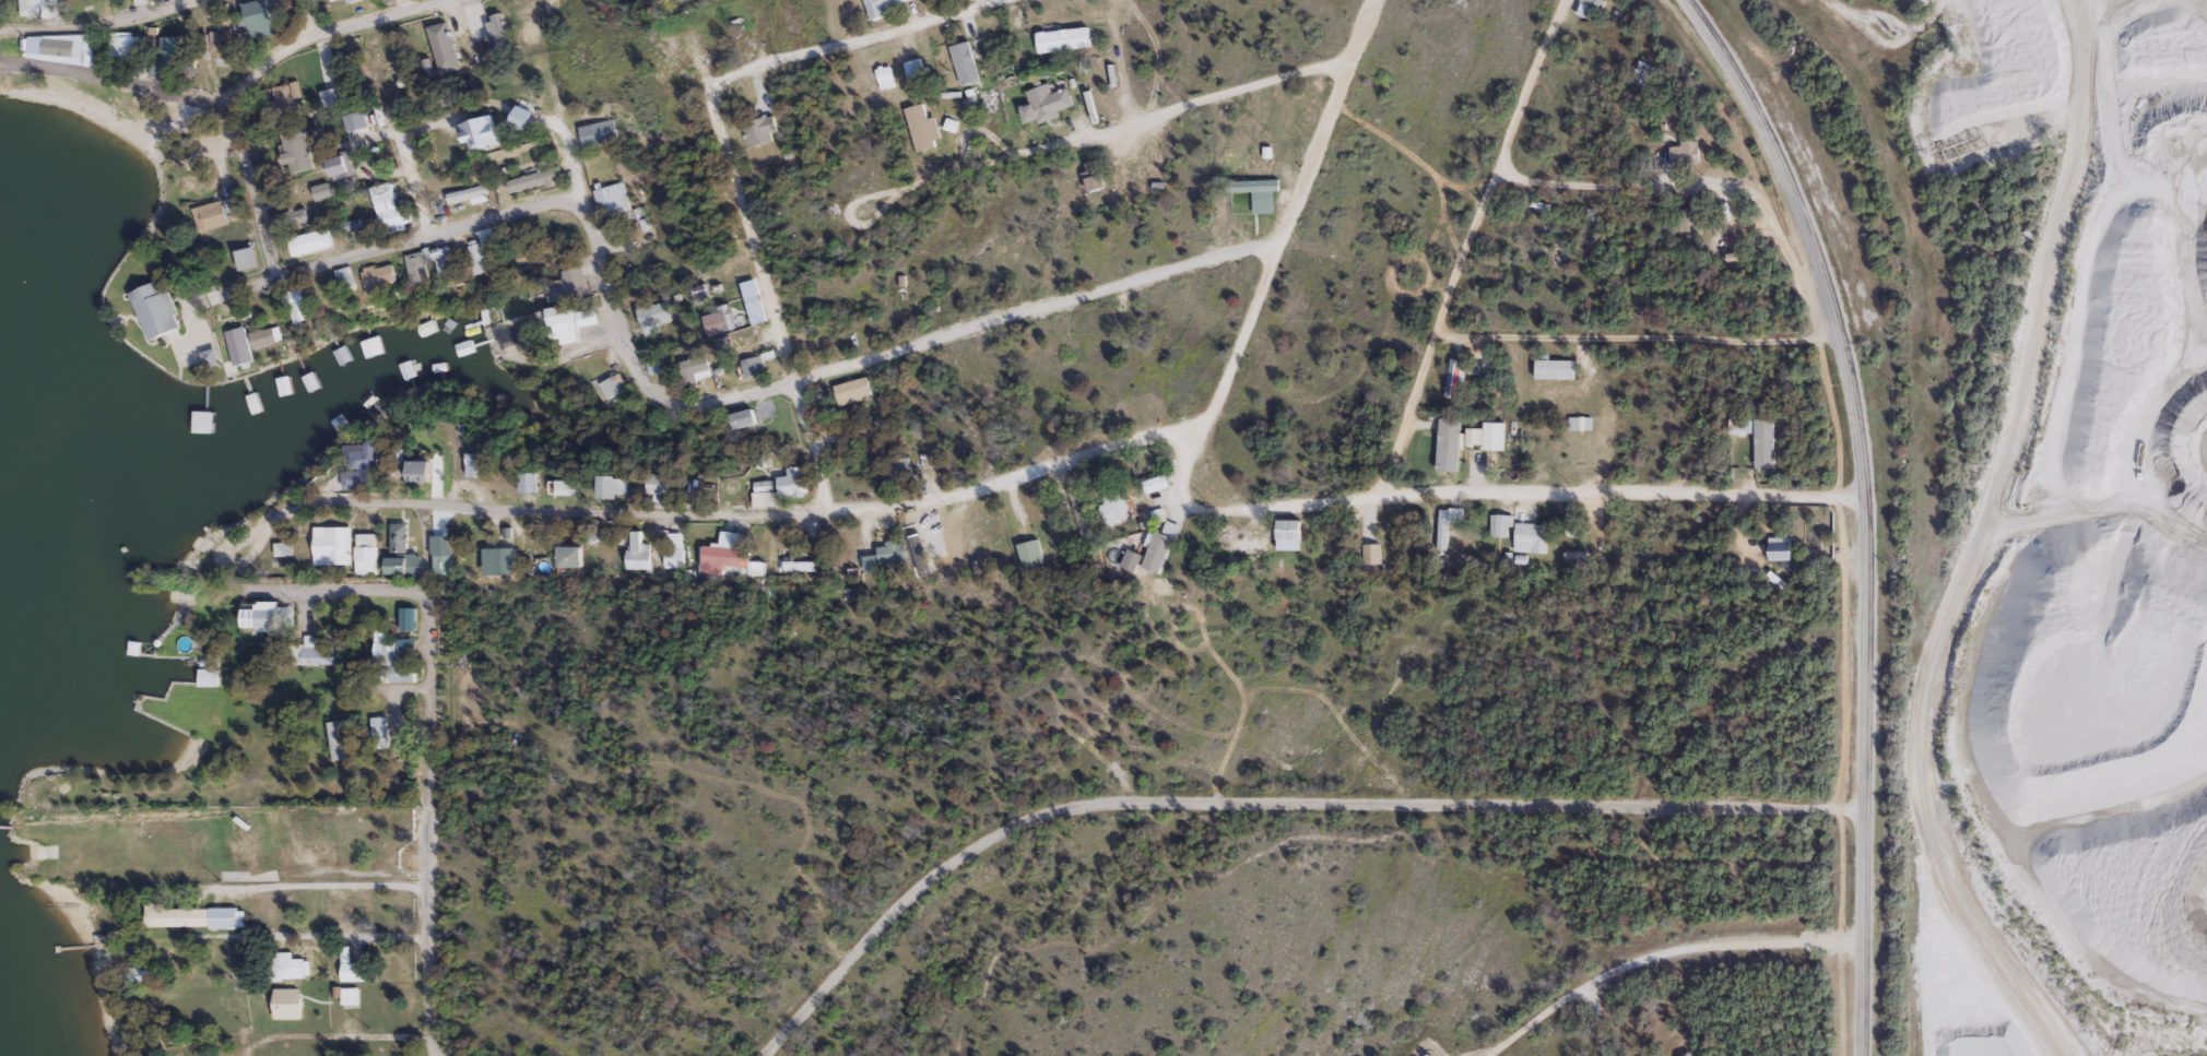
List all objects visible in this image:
building: (350, 1)
building: (86, 3)
building: (1595, 3)
building: (885, 7)
building: (42, 9)
road: (309, 16)
building: (259, 17)
building: (527, 26)
road: (97, 27)
building: (497, 34)
building: (1065, 38)
road: (851, 39)
building: (219, 45)
building: (446, 45)
building: (128, 47)
building: (64, 48)
building: (177, 52)
building: (965, 62)
building: (322, 63)
building: (916, 70)
building: (1642, 73)
building: (886, 75)
building: (676, 80)
building: (285, 92)
road: (228, 96)
building: (331, 96)
building: (1047, 103)
building: (346, 124)
building: (922, 127)
road: (1123, 127)
road: (573, 128)
building: (760, 130)
building: (594, 133)
building: (297, 149)
building: (1688, 151)
building: (340, 169)
road: (405, 170)
building: (532, 180)
building: (1253, 185)
road: (1704, 186)
road: (250, 189)
building: (321, 191)
building: (465, 193)
building: (609, 202)
building: (389, 207)
road: (1288, 212)
building: (213, 213)
building: (294, 217)
building: (1690, 219)
road: (423, 236)
building: (487, 237)
building: (310, 241)
road: (1467, 247)
building: (1737, 256)
building: (475, 257)
building: (248, 258)
building: (446, 261)
building: (418, 268)
building: (380, 276)
building: (346, 280)
building: (570, 284)
road: (762, 298)
building: (300, 306)
building: (155, 309)
building: (653, 315)
building: (566, 323)
building: (267, 335)
road: (1637, 337)
building: (735, 342)
building: (240, 345)
building: (366, 346)
building: (212, 360)
road: (862, 361)
building: (652, 366)
building: (752, 366)
building: (695, 368)
building: (1454, 378)
building: (310, 382)
building: (852, 390)
road: (2015, 402)
building: (822, 403)
building: (753, 414)
building: (208, 420)
building: (337, 420)
building: (1580, 424)
building: (979, 440)
building: (1763, 443)
building: (1448, 451)
building: (759, 461)
building: (901, 462)
building: (362, 463)
building: (476, 465)
building: (422, 471)
building: (530, 482)
building: (794, 482)
building: (661, 483)
building: (1158, 483)
building: (571, 486)
building: (616, 486)
building: (764, 486)
road: (1482, 494)
building: (1113, 505)
road: (1864, 508)
road: (766, 514)
building: (1499, 526)
building: (1291, 530)
building: (1168, 534)
building: (393, 536)
building: (1530, 537)
building: (1242, 542)
building: (333, 544)
building: (638, 548)
building: (674, 548)
building: (1780, 548)
building: (727, 553)
building: (1030, 553)
building: (366, 554)
building: (1371, 554)
building: (571, 556)
building: (1135, 556)
building: (884, 557)
building: (441, 565)
quarry: (2082, 567)
building: (800, 568)
building: (267, 616)
building: (317, 652)
building: (389, 660)
building: (209, 677)
building: (110, 695)
road: (427, 736)
building: (379, 737)
building: (341, 740)
road: (1264, 799)
building: (251, 834)
road: (324, 887)
building: (194, 916)
road: (1990, 933)
road: (1662, 950)
building: (284, 964)
building: (351, 968)
building: (347, 996)
building: (286, 1002)
road: (1594, 1021)
road: (353, 1036)
building: (170, 1040)
building: (1691, 1055)

